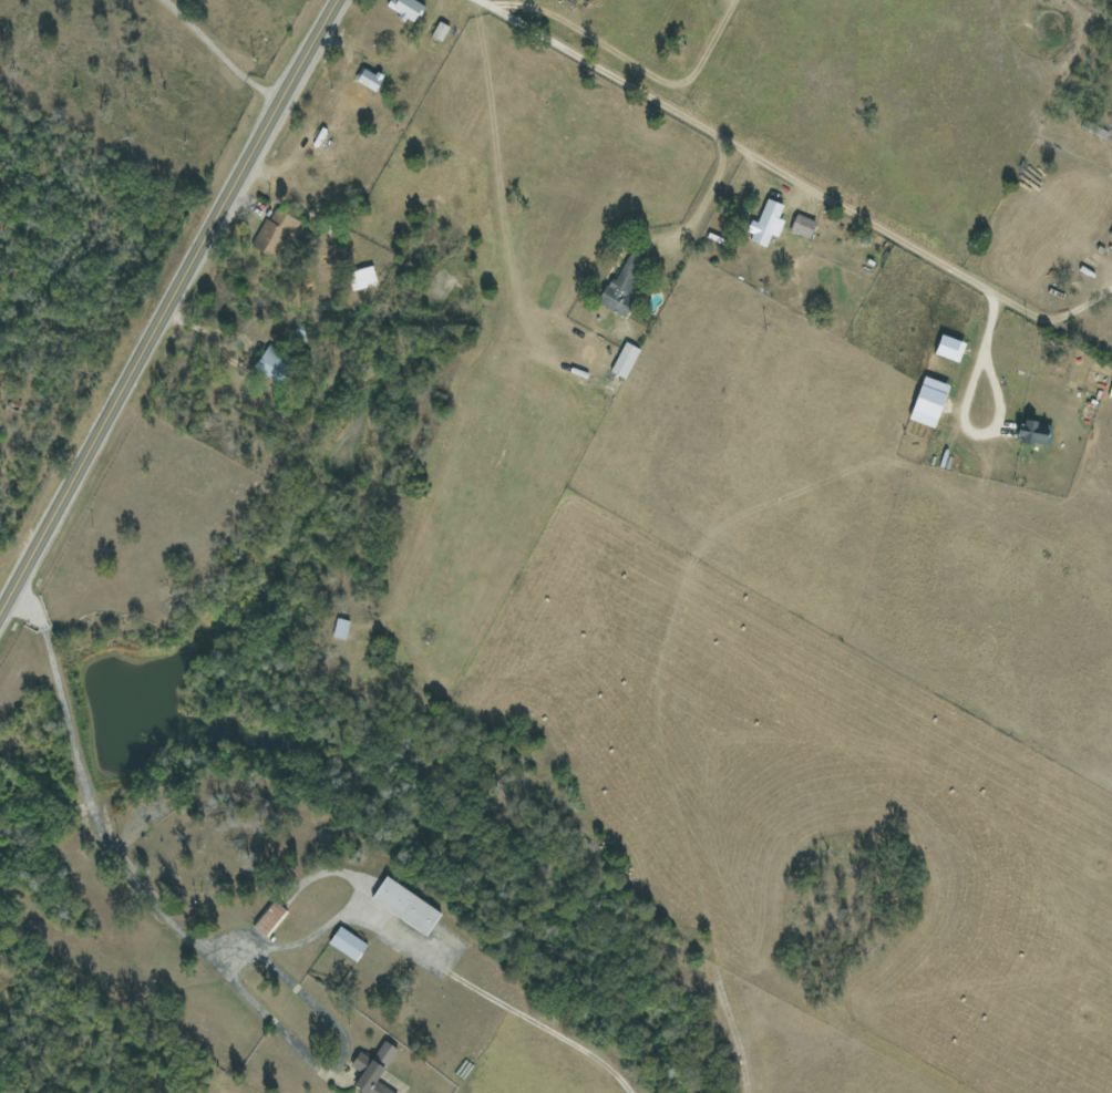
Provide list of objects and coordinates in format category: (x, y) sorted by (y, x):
building: (406, 8)
road: (500, 8)
building: (440, 31)
road: (208, 54)
building: (369, 79)
road: (793, 183)
road: (703, 196)
road: (285, 198)
building: (766, 224)
building: (803, 225)
building: (276, 233)
building: (362, 278)
building: (622, 286)
road: (164, 306)
road: (1075, 310)
road: (244, 336)
building: (950, 348)
building: (625, 360)
building: (275, 364)
road: (852, 386)
building: (929, 402)
road: (964, 412)
building: (1034, 432)
building: (340, 629)
road: (109, 848)
building: (406, 906)
building: (270, 918)
building: (348, 944)
building: (373, 1070)

